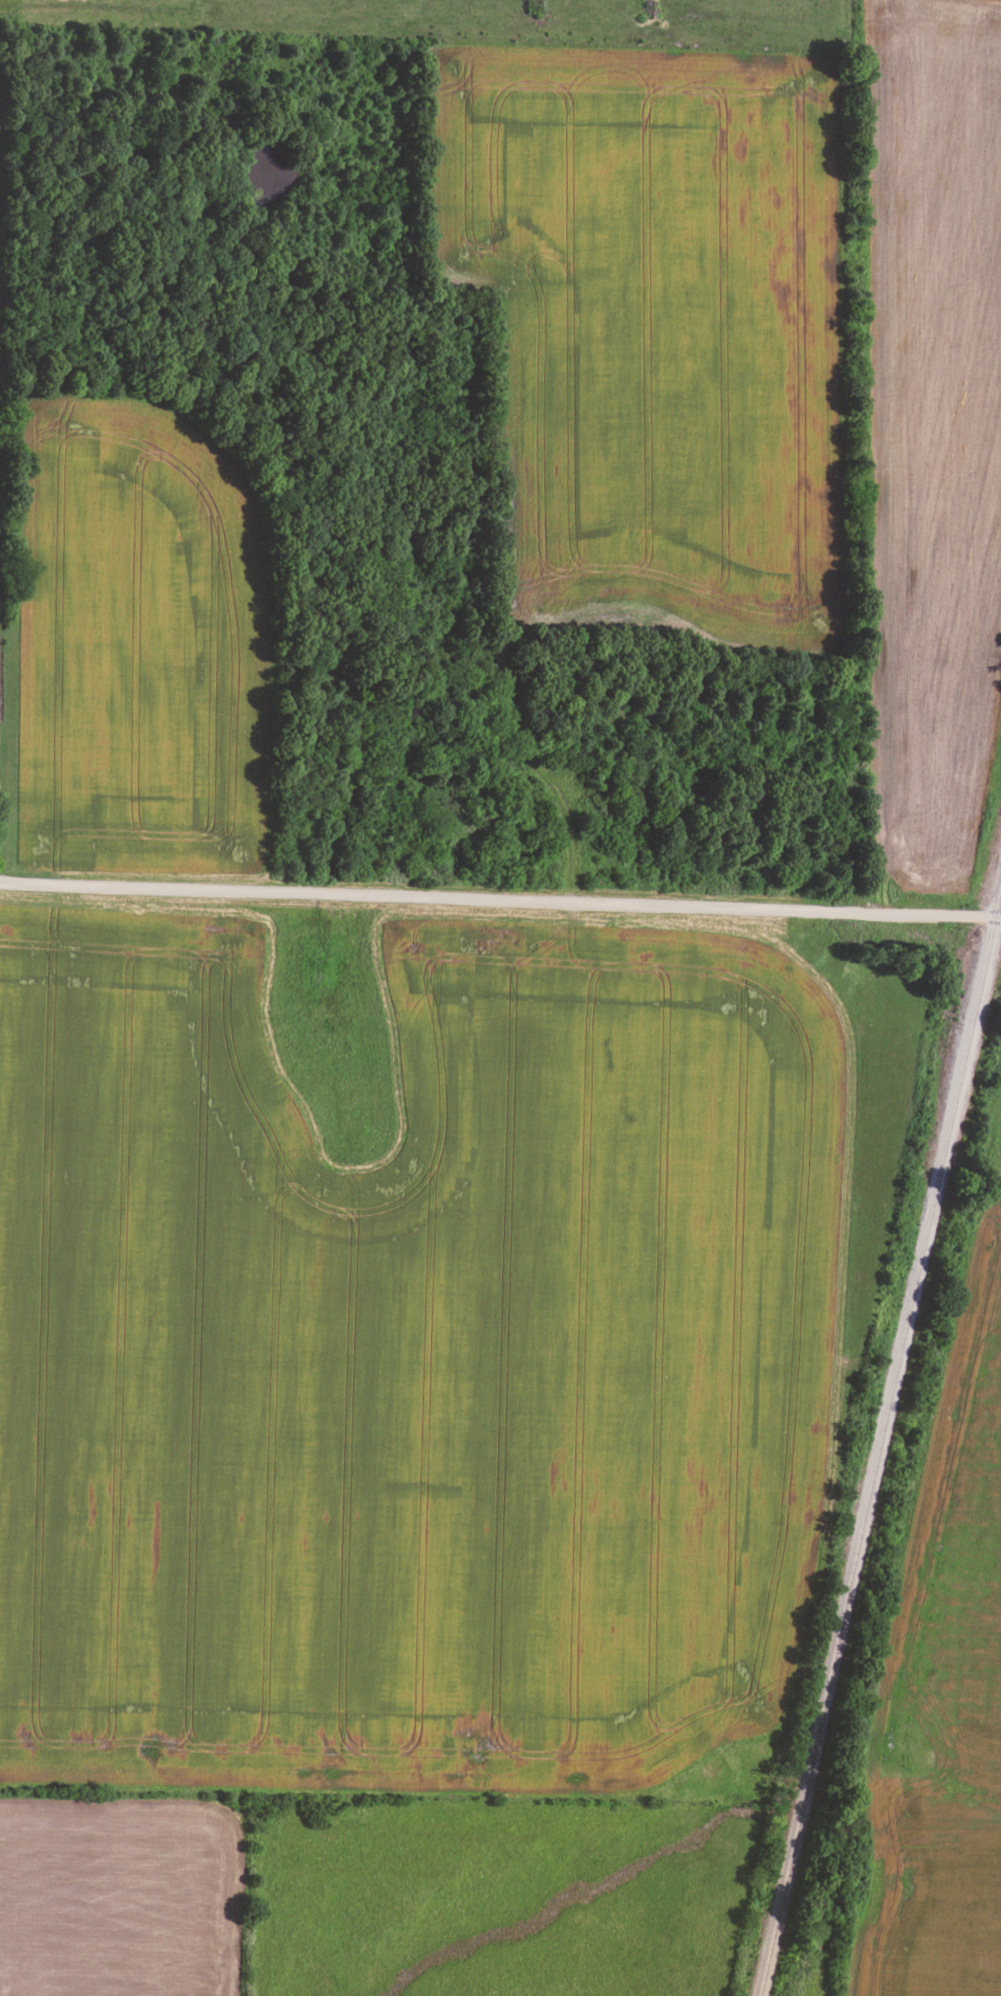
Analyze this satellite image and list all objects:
road: (500, 901)
railway: (881, 1436)

